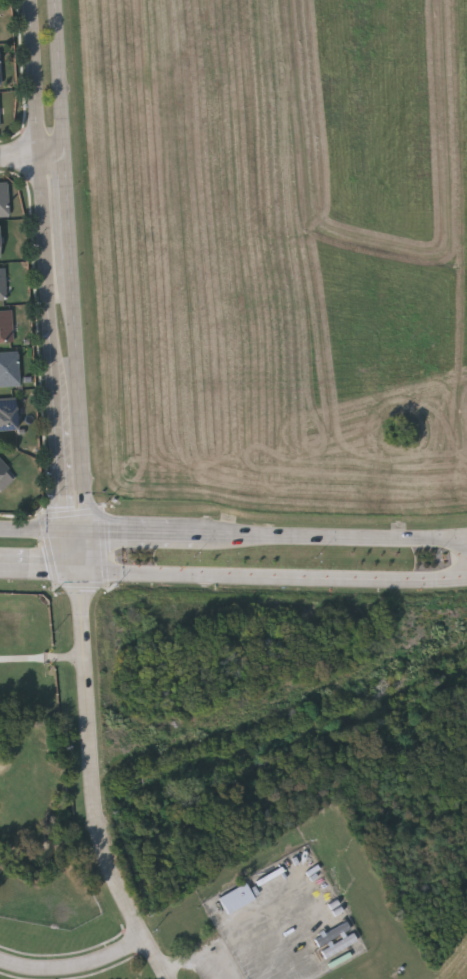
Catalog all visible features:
building: (0, 74)
road: (59, 76)
building: (0, 122)
road: (31, 153)
building: (4, 200)
road: (67, 205)
building: (0, 247)
road: (46, 265)
building: (3, 284)
building: (6, 327)
building: (9, 369)
road: (79, 394)
building: (8, 414)
building: (3, 467)
road: (31, 529)
traffic signals: (63, 530)
road: (76, 530)
traffic signals: (89, 530)
road: (145, 532)
road: (333, 540)
road: (73, 552)
road: (86, 552)
road: (42, 573)
traffic signals: (84, 575)
road: (275, 579)
road: (43, 658)
road: (93, 784)
building: (238, 899)
road: (265, 928)
building: (347, 942)
road: (199, 959)
road: (74, 967)

